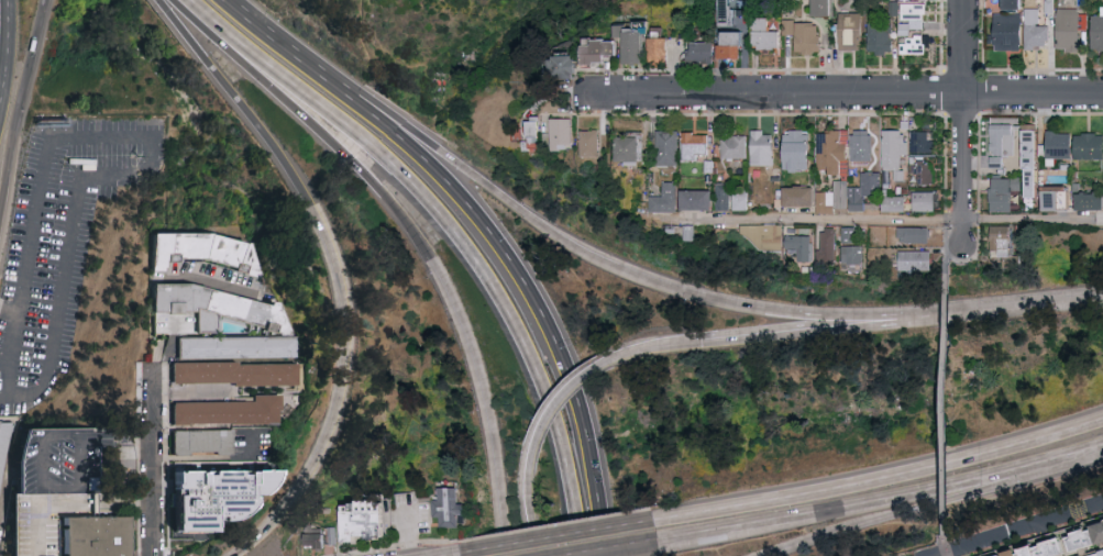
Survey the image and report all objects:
building: (1015, 3)
building: (826, 7)
building: (897, 8)
building: (731, 12)
building: (915, 16)
building: (1074, 27)
building: (1038, 29)
road: (2, 31)
building: (856, 31)
building: (1012, 31)
building: (768, 34)
building: (807, 34)
building: (883, 36)
road: (236, 38)
building: (918, 44)
building: (735, 45)
building: (606, 46)
building: (663, 48)
building: (706, 52)
road: (309, 64)
road: (31, 66)
building: (570, 66)
road: (850, 97)
road: (967, 122)
building: (569, 132)
building: (538, 133)
building: (598, 142)
building: (1004, 143)
building: (699, 144)
building: (865, 144)
building: (1063, 144)
building: (1091, 145)
building: (738, 146)
building: (674, 147)
building: (766, 147)
building: (638, 148)
building: (802, 149)
building: (896, 149)
building: (837, 151)
building: (926, 156)
building: (1034, 159)
road: (145, 167)
road: (8, 173)
building: (868, 189)
building: (1007, 192)
building: (728, 196)
building: (804, 196)
building: (672, 198)
building: (837, 198)
building: (704, 199)
building: (744, 199)
building: (928, 200)
building: (1091, 200)
building: (897, 202)
road: (1100, 215)
road: (1032, 216)
road: (814, 218)
building: (914, 233)
building: (854, 234)
building: (769, 235)
building: (1005, 240)
parking lot: (59, 245)
building: (805, 245)
building: (832, 246)
building: (201, 247)
building: (858, 256)
building: (920, 260)
road: (952, 265)
road: (340, 266)
road: (637, 277)
road: (490, 278)
road: (451, 290)
road: (1013, 309)
road: (542, 316)
building: (221, 318)
road: (812, 332)
road: (169, 346)
road: (652, 346)
road: (10, 357)
building: (231, 375)
road: (3, 377)
road: (562, 398)
building: (225, 412)
road: (945, 412)
road: (115, 436)
road: (152, 440)
building: (200, 443)
road: (1084, 448)
building: (3, 452)
road: (1070, 457)
road: (218, 463)
road: (883, 478)
road: (40, 485)
building: (209, 494)
road: (527, 502)
road: (70, 503)
road: (1094, 503)
building: (449, 508)
road: (851, 510)
road: (905, 513)
building: (46, 519)
parking garage: (46, 519)
building: (361, 522)
road: (1006, 530)
road: (151, 531)
road: (407, 533)
building: (95, 536)
building: (1091, 536)
road: (561, 537)
building: (316, 543)
road: (944, 543)
building: (1046, 548)
road: (637, 551)
road: (451, 554)
building: (1096, 554)
parking lot: (903, 555)

